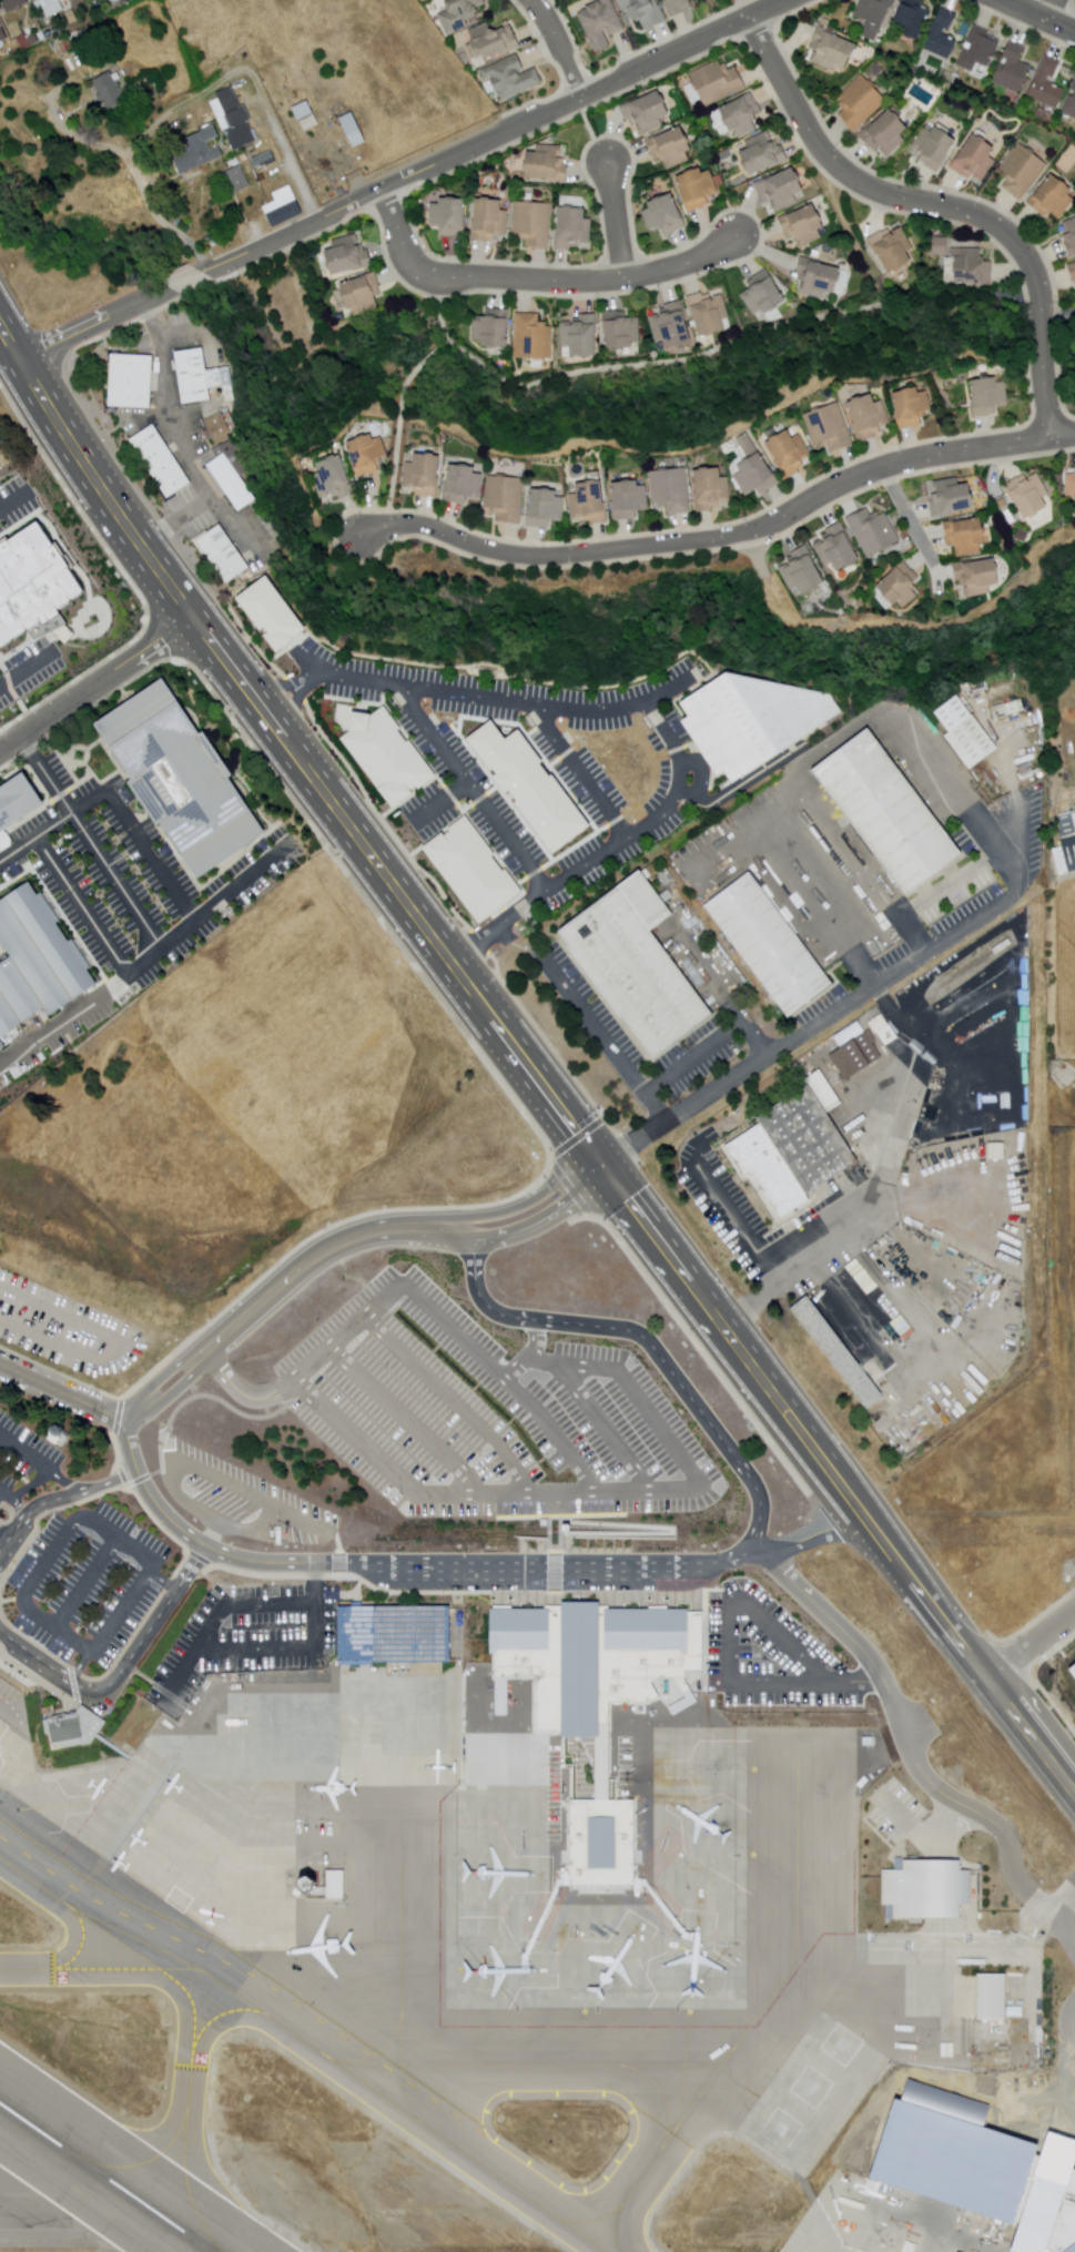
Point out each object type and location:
building: (427, 1)
building: (16, 6)
building: (49, 7)
building: (679, 8)
road: (744, 9)
road: (1054, 10)
building: (643, 13)
building: (462, 16)
building: (875, 16)
road: (1038, 16)
building: (914, 18)
building: (825, 21)
building: (602, 24)
building: (99, 28)
building: (943, 34)
building: (2, 38)
building: (23, 43)
building: (493, 44)
road: (561, 47)
building: (831, 49)
building: (981, 49)
building: (85, 50)
building: (1015, 69)
building: (880, 71)
road: (254, 75)
building: (514, 81)
building: (1046, 82)
building: (719, 84)
building: (1074, 88)
building: (111, 91)
building: (861, 102)
building: (1069, 106)
building: (973, 109)
building: (648, 114)
building: (744, 115)
building: (1046, 116)
building: (307, 118)
building: (124, 120)
building: (237, 121)
building: (981, 122)
building: (885, 131)
building: (354, 132)
road: (588, 133)
road: (498, 136)
building: (935, 146)
building: (672, 148)
building: (252, 150)
building: (764, 152)
building: (199, 153)
building: (245, 159)
building: (976, 159)
building: (265, 161)
building: (548, 164)
building: (1023, 171)
road: (139, 175)
building: (237, 182)
building: (264, 183)
building: (699, 189)
building: (783, 189)
building: (1055, 199)
road: (943, 206)
building: (285, 210)
building: (666, 215)
building: (452, 216)
building: (491, 220)
road: (618, 221)
building: (535, 224)
building: (804, 225)
building: (574, 229)
road: (848, 233)
building: (1072, 236)
storage tank: (215, 246)
building: (941, 246)
building: (895, 248)
building: (351, 255)
building: (971, 267)
building: (1073, 270)
building: (820, 278)
road: (538, 281)
road: (187, 282)
road: (300, 284)
building: (363, 294)
building: (764, 294)
building: (709, 314)
road: (1058, 314)
road: (93, 319)
building: (672, 325)
building: (494, 329)
building: (622, 331)
building: (582, 336)
building: (534, 337)
road: (433, 352)
road: (708, 353)
building: (199, 376)
building: (131, 382)
building: (991, 396)
building: (913, 407)
building: (870, 418)
building: (831, 428)
building: (219, 429)
road: (173, 432)
road: (394, 443)
building: (791, 454)
building: (368, 455)
building: (161, 461)
building: (755, 469)
road: (91, 471)
building: (231, 475)
building: (423, 476)
building: (334, 479)
building: (464, 485)
building: (1073, 486)
building: (672, 490)
building: (712, 490)
building: (1030, 495)
building: (507, 499)
building: (952, 499)
building: (630, 500)
road: (9, 501)
building: (591, 504)
parking lot: (13, 505)
building: (547, 508)
road: (910, 518)
road: (174, 524)
building: (874, 531)
building: (968, 537)
road: (723, 541)
building: (839, 549)
building: (223, 555)
building: (804, 571)
building: (980, 578)
building: (32, 580)
building: (900, 588)
building: (268, 617)
road: (20, 669)
parking lot: (24, 672)
road: (675, 684)
road: (95, 687)
road: (636, 704)
building: (1008, 710)
building: (752, 717)
building: (968, 733)
building: (386, 754)
road: (579, 771)
building: (181, 778)
parking lot: (587, 779)
building: (529, 783)
road: (471, 789)
road: (444, 801)
building: (17, 803)
building: (892, 815)
building: (1066, 821)
road: (32, 836)
building: (0, 840)
road: (138, 842)
road: (87, 843)
building: (1068, 852)
building: (1064, 858)
building: (473, 870)
parking lot: (133, 872)
building: (670, 880)
road: (395, 894)
road: (219, 897)
road: (79, 905)
building: (772, 945)
road: (142, 960)
building: (36, 961)
building: (639, 970)
road: (63, 1017)
building: (879, 1024)
road: (810, 1029)
building: (890, 1036)
building: (858, 1055)
building: (845, 1092)
building: (998, 1152)
building: (791, 1156)
traffic signals: (604, 1166)
road: (539, 1205)
road: (281, 1284)
road: (351, 1326)
road: (729, 1336)
road: (649, 1341)
building: (839, 1352)
road: (64, 1391)
road: (457, 1398)
road: (214, 1399)
parking lot: (481, 1412)
road: (405, 1419)
road: (552, 1423)
road: (608, 1424)
parking lot: (27, 1464)
road: (37, 1464)
road: (207, 1471)
road: (151, 1495)
road: (600, 1495)
road: (60, 1498)
parking lot: (239, 1498)
road: (14, 1502)
road: (558, 1507)
road: (669, 1530)
road: (215, 1536)
road: (817, 1536)
road: (53, 1544)
road: (559, 1570)
road: (487, 1572)
parking lot: (88, 1579)
road: (161, 1581)
road: (84, 1585)
road: (217, 1611)
road: (723, 1630)
building: (392, 1634)
parking lot: (243, 1636)
road: (966, 1641)
road: (1035, 1643)
road: (295, 1649)
parking lot: (768, 1655)
road: (75, 1664)
building: (1072, 1668)
road: (124, 1671)
road: (850, 1683)
airport terminal: (590, 1698)
building: (590, 1698)
building: (75, 1728)
road: (907, 1737)
road: (110, 1746)
airport taxiway: (733, 1766)
airport: (489, 1809)
airport taxiway: (746, 1848)
airport taxiway: (449, 1873)
building: (297, 1883)
building: (327, 1886)
building: (926, 1887)
airport apron: (528, 1896)
road: (1059, 1904)
airport taxiway: (65, 1907)
road: (1036, 1928)
building: (547, 1938)
road: (1059, 1939)
airport taxiway: (123, 1970)
airport taxiway: (172, 1970)
airport taxiway: (457, 1972)
airport taxiway: (777, 1981)
airport taxiway: (398, 1988)
building: (995, 1998)
airport taxiway: (582, 2008)
road: (1062, 2025)
airport taxiway: (684, 2039)
parking lot: (1072, 2043)
airport taxiway: (557, 2048)
airport taxiway: (190, 2052)
airport taxiway: (398, 2065)
airport taxiway: (539, 2066)
airport taxiway: (344, 2070)
airport taxiway: (660, 2146)
airport terminal: (981, 2162)
building: (981, 2162)
airport runway: (105, 2178)
airport taxiway: (153, 2183)
airport taxiway: (186, 2201)
airport apron: (890, 2222)
airport hangar: (1071, 2248)
building: (1071, 2248)
airport apron: (1053, 2249)

